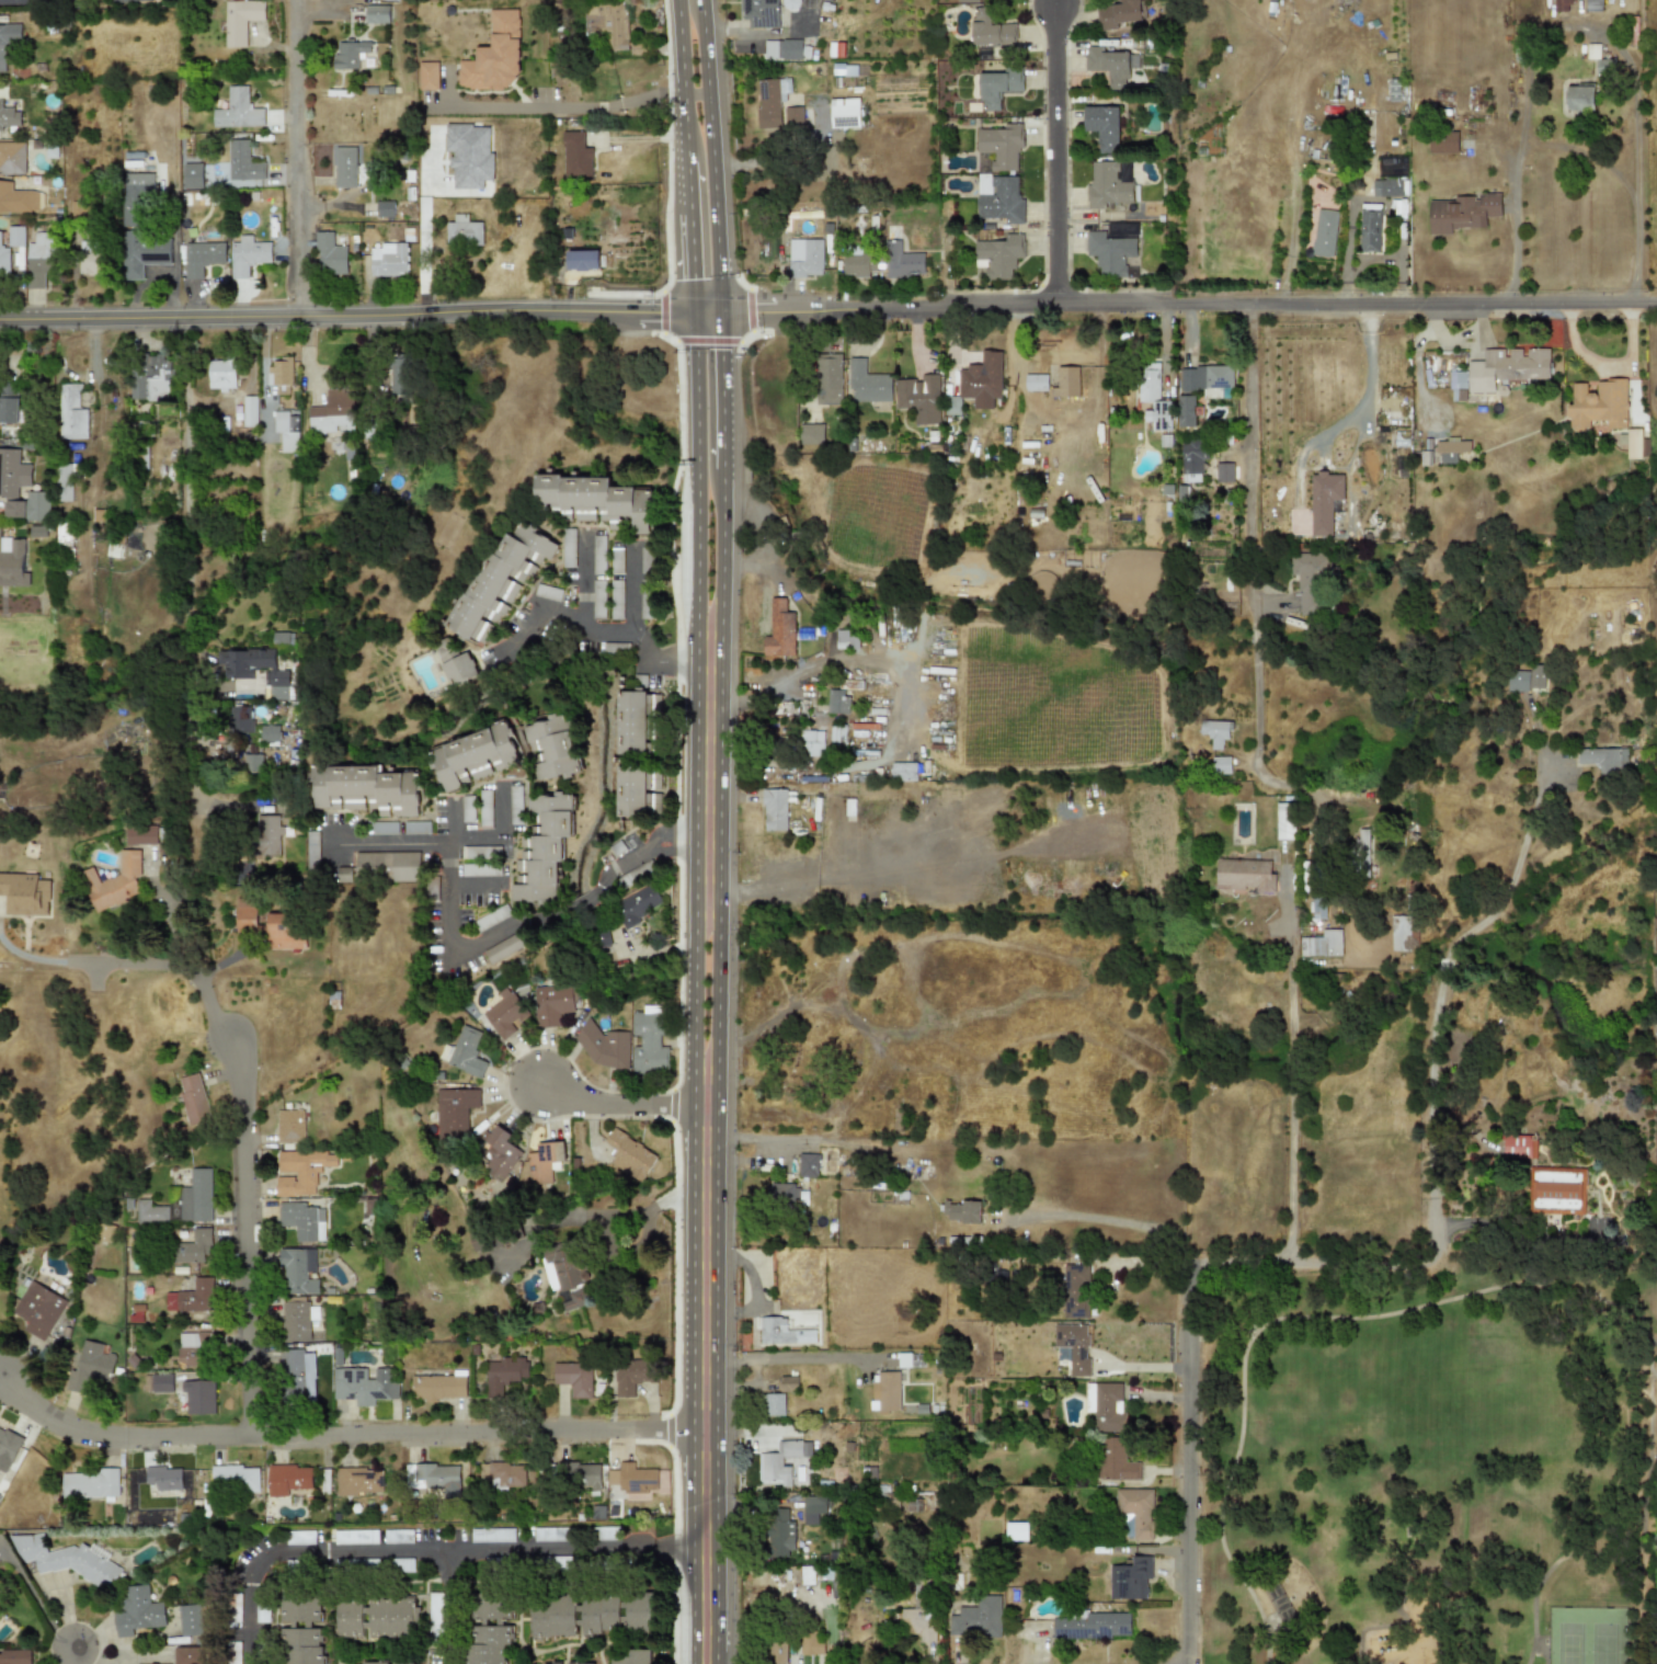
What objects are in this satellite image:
building: (129, 0)
building: (968, 0)
building: (13, 2)
building: (790, 4)
building: (1593, 4)
building: (1561, 5)
building: (759, 12)
building: (376, 14)
building: (1120, 14)
building: (240, 20)
building: (606, 24)
road: (1573, 25)
building: (990, 29)
building: (7, 39)
building: (784, 49)
building: (348, 54)
building: (493, 56)
building: (1110, 64)
building: (427, 76)
building: (997, 87)
road: (447, 90)
building: (1578, 98)
building: (769, 101)
road: (560, 105)
building: (237, 111)
building: (792, 115)
building: (844, 116)
building: (9, 117)
building: (1102, 126)
building: (1442, 141)
building: (1001, 145)
road: (1591, 152)
building: (468, 155)
road: (699, 155)
building: (575, 156)
building: (11, 157)
road: (1060, 159)
road: (304, 160)
building: (241, 162)
building: (344, 167)
building: (1392, 167)
building: (192, 175)
building: (241, 183)
building: (1109, 183)
building: (1386, 187)
building: (16, 198)
building: (136, 200)
building: (1462, 212)
road: (422, 226)
building: (462, 229)
building: (1369, 230)
building: (1323, 232)
building: (15, 236)
building: (1111, 247)
building: (142, 253)
building: (247, 255)
building: (329, 255)
building: (999, 255)
building: (89, 258)
building: (201, 258)
building: (803, 258)
building: (38, 259)
building: (388, 259)
building: (582, 260)
building: (902, 261)
building: (3, 262)
building: (857, 264)
road: (1181, 311)
road: (353, 319)
building: (1506, 367)
building: (220, 374)
building: (281, 375)
building: (150, 377)
building: (1208, 377)
building: (1066, 378)
building: (828, 379)
building: (982, 380)
building: (1036, 381)
building: (867, 383)
building: (1149, 383)
building: (1456, 383)
building: (919, 398)
building: (9, 402)
building: (1598, 404)
building: (248, 411)
building: (1186, 411)
building: (70, 412)
building: (332, 412)
building: (1159, 415)
building: (286, 430)
building: (811, 434)
building: (1632, 443)
building: (1644, 448)
building: (1452, 451)
building: (1191, 458)
building: (12, 472)
building: (1224, 472)
building: (65, 480)
road: (184, 483)
building: (594, 500)
building: (1325, 501)
building: (30, 506)
building: (568, 548)
building: (598, 555)
building: (616, 560)
building: (645, 560)
building: (13, 561)
road: (582, 573)
road: (629, 578)
building: (499, 581)
building: (1310, 582)
building: (548, 593)
building: (598, 600)
building: (616, 600)
building: (645, 604)
road: (609, 627)
building: (779, 629)
road: (1258, 636)
building: (282, 639)
building: (845, 640)
building: (615, 648)
building: (803, 648)
building: (459, 669)
building: (240, 673)
building: (1525, 680)
building: (243, 684)
building: (836, 702)
building: (241, 719)
building: (631, 722)
building: (1214, 731)
building: (270, 733)
building: (836, 733)
building: (811, 743)
building: (551, 746)
road: (190, 750)
building: (472, 756)
building: (1604, 760)
building: (253, 763)
building: (1220, 764)
building: (903, 771)
building: (365, 790)
building: (633, 790)
building: (515, 805)
building: (468, 809)
building: (485, 809)
building: (774, 809)
road: (502, 812)
building: (1283, 820)
road: (450, 821)
building: (384, 828)
building: (416, 828)
building: (141, 834)
building: (267, 835)
road: (391, 842)
building: (620, 846)
building: (311, 848)
building: (544, 848)
building: (479, 852)
building: (387, 866)
building: (480, 870)
building: (343, 876)
building: (1243, 876)
road: (970, 878)
road: (1512, 878)
building: (114, 881)
road: (473, 884)
building: (24, 894)
building: (594, 896)
building: (635, 905)
building: (1317, 908)
building: (245, 915)
building: (491, 919)
road: (706, 927)
road: (511, 930)
building: (284, 931)
building: (1403, 933)
building: (599, 939)
building: (1322, 944)
building: (504, 948)
building: (555, 1003)
building: (505, 1014)
building: (648, 1041)
building: (603, 1047)
building: (462, 1052)
road: (1292, 1073)
road: (245, 1097)
building: (193, 1099)
road: (618, 1106)
building: (454, 1112)
building: (289, 1126)
road: (758, 1137)
building: (1520, 1146)
building: (499, 1153)
building: (629, 1155)
road: (744, 1161)
building: (542, 1162)
building: (807, 1165)
building: (301, 1171)
building: (1559, 1190)
building: (780, 1194)
road: (1435, 1206)
building: (149, 1211)
building: (961, 1211)
road: (596, 1217)
building: (301, 1220)
road: (1109, 1221)
building: (193, 1247)
building: (297, 1270)
building: (1075, 1291)
building: (191, 1297)
building: (37, 1309)
road: (1299, 1315)
building: (296, 1320)
building: (777, 1331)
building: (1073, 1347)
building: (192, 1349)
road: (789, 1358)
building: (910, 1360)
building: (90, 1367)
building: (504, 1374)
building: (631, 1375)
building: (296, 1376)
building: (573, 1378)
building: (157, 1381)
building: (787, 1383)
building: (363, 1386)
building: (437, 1387)
building: (884, 1391)
building: (197, 1397)
building: (772, 1404)
building: (1106, 1405)
road: (341, 1436)
building: (7, 1448)
road: (1195, 1459)
building: (1116, 1461)
building: (782, 1464)
park: (1437, 1467)
building: (502, 1473)
building: (574, 1473)
building: (235, 1477)
building: (163, 1478)
building: (287, 1479)
building: (636, 1479)
building: (358, 1481)
building: (90, 1483)
building: (812, 1508)
building: (1136, 1511)
road: (1595, 1516)
building: (1015, 1531)
building: (778, 1534)
building: (493, 1535)
building: (551, 1535)
building: (356, 1537)
building: (301, 1538)
road: (572, 1547)
road: (297, 1553)
building: (68, 1559)
building: (404, 1563)
building: (805, 1575)
building: (1129, 1578)
road: (704, 1604)
road: (444, 1606)
building: (235, 1608)
building: (137, 1611)
building: (435, 1614)
building: (617, 1615)
building: (918, 1615)
building: (555, 1617)
building: (395, 1618)
building: (190, 1619)
building: (976, 1619)
building: (352, 1620)
road: (1376, 1625)
building: (1093, 1626)
building: (491, 1629)
building: (302, 1630)
road: (1439, 1631)
building: (810, 1644)
road: (1546, 1648)
building: (776, 1650)
building: (235, 1653)
building: (187, 1654)
building: (631, 1656)
building: (14, 1657)
road: (69, 1659)
building: (376, 1663)

